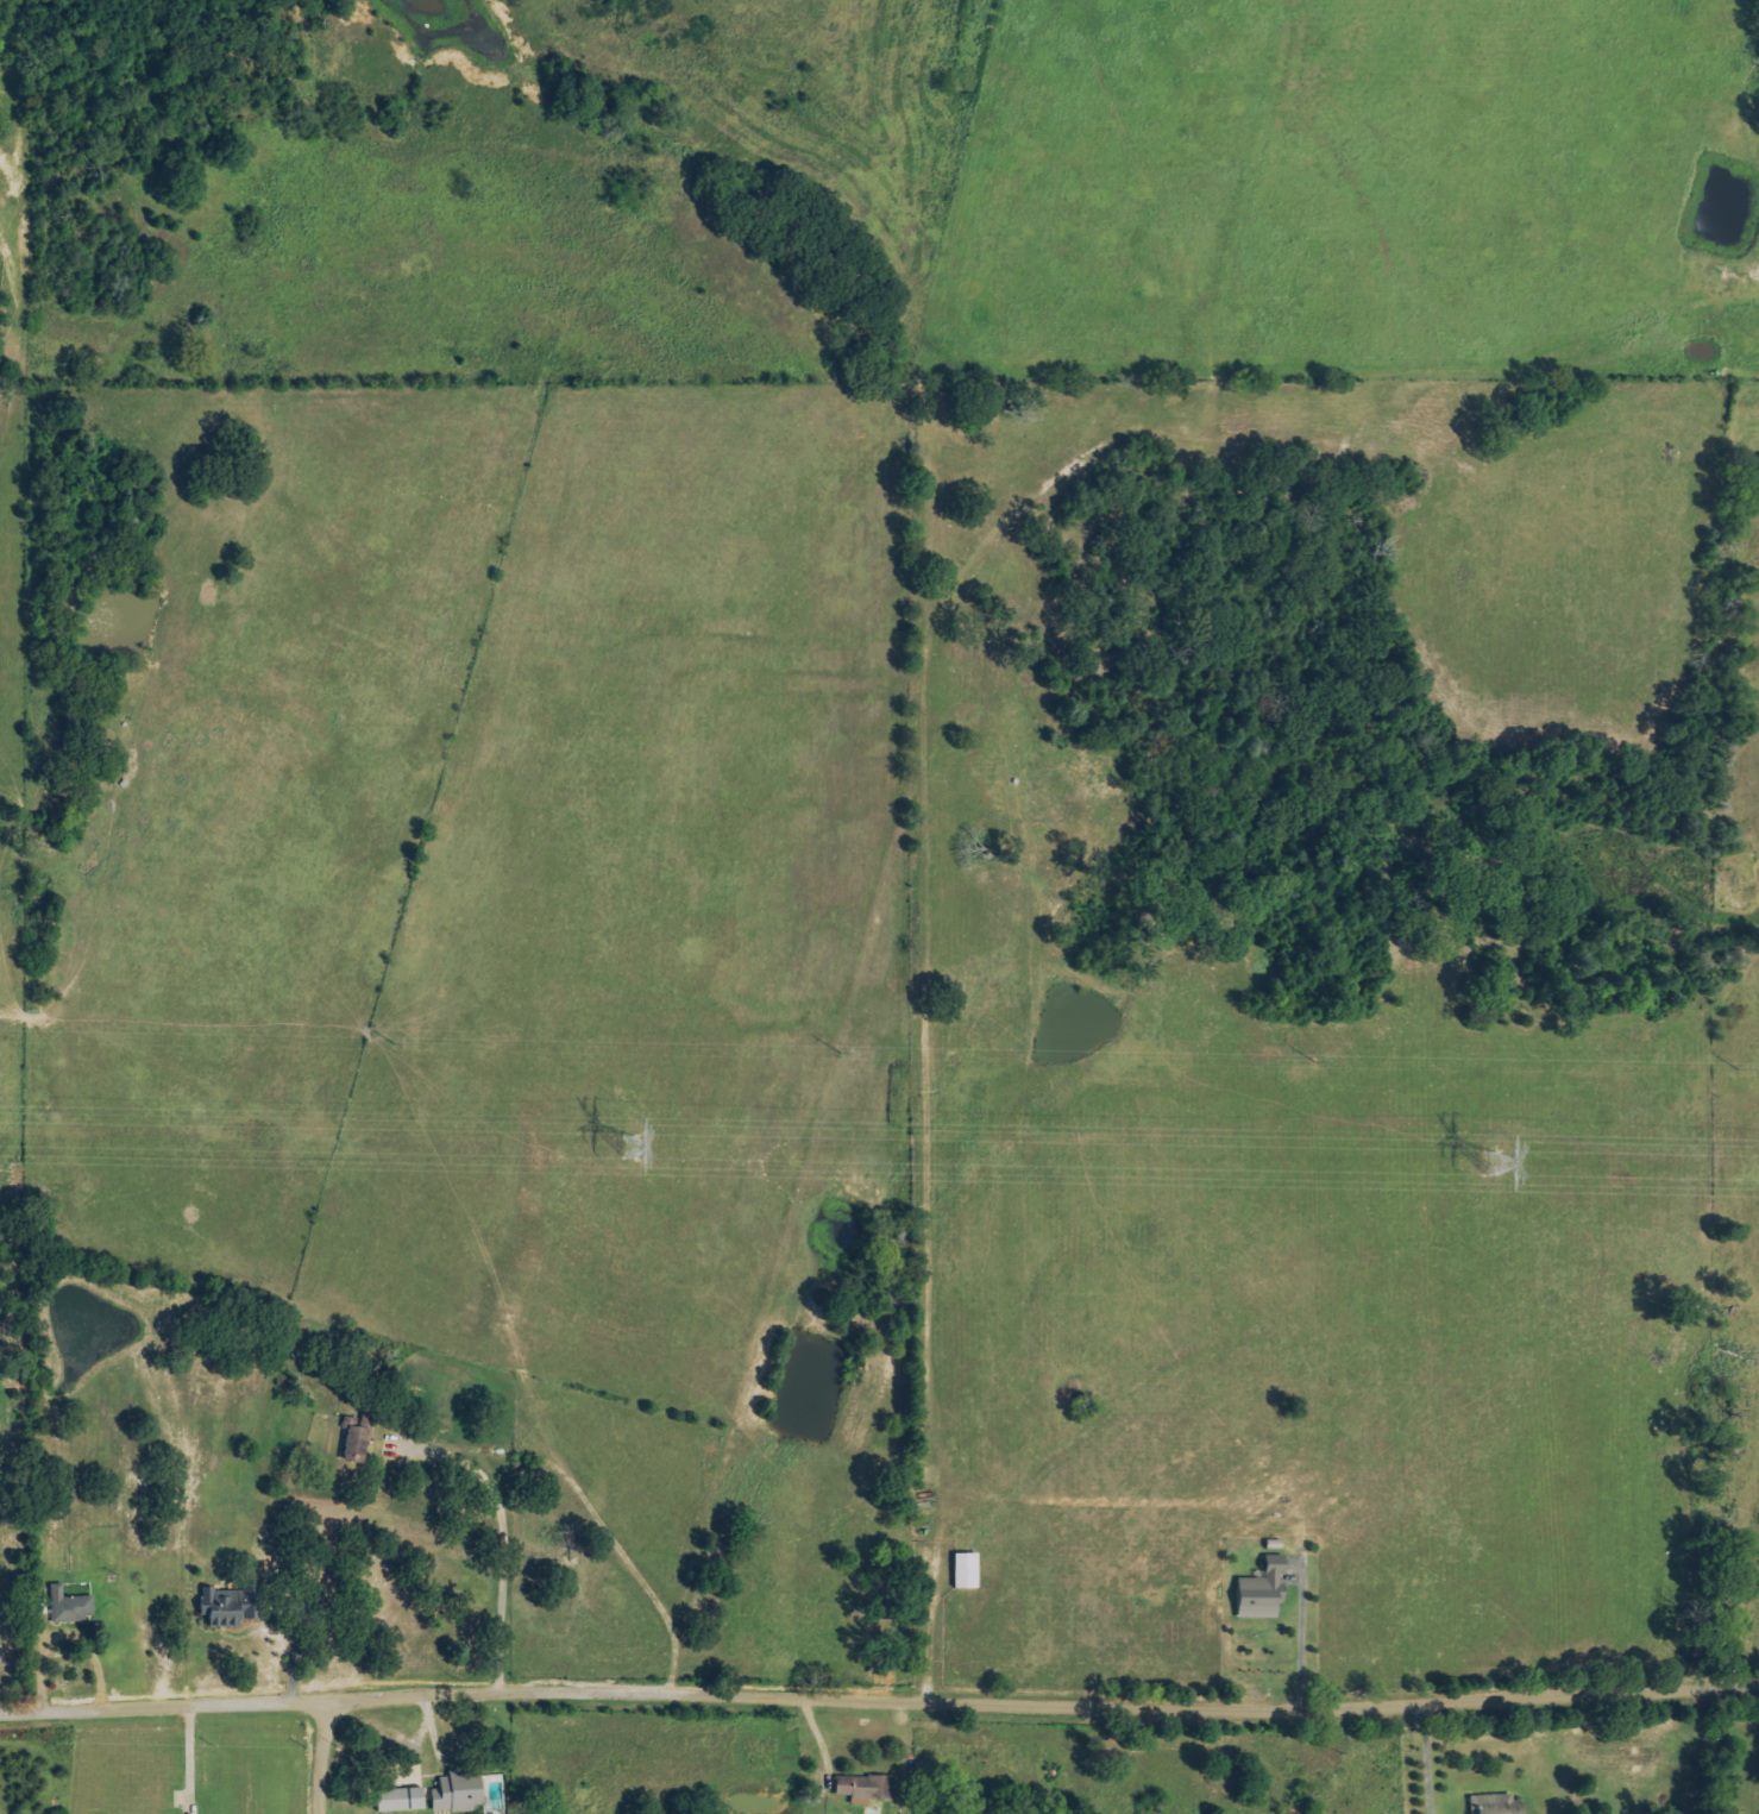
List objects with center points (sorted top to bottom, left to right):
power tower: (630, 1145)
power tower: (1494, 1162)
building: (356, 1440)
road: (502, 1527)
building: (967, 1571)
building: (1263, 1590)
building: (70, 1606)
road: (932, 1626)
road: (879, 1691)
road: (1438, 1755)
road: (189, 1758)
road: (320, 1758)
building: (865, 1787)
building: (459, 1793)
building: (401, 1800)
building: (1495, 1804)

